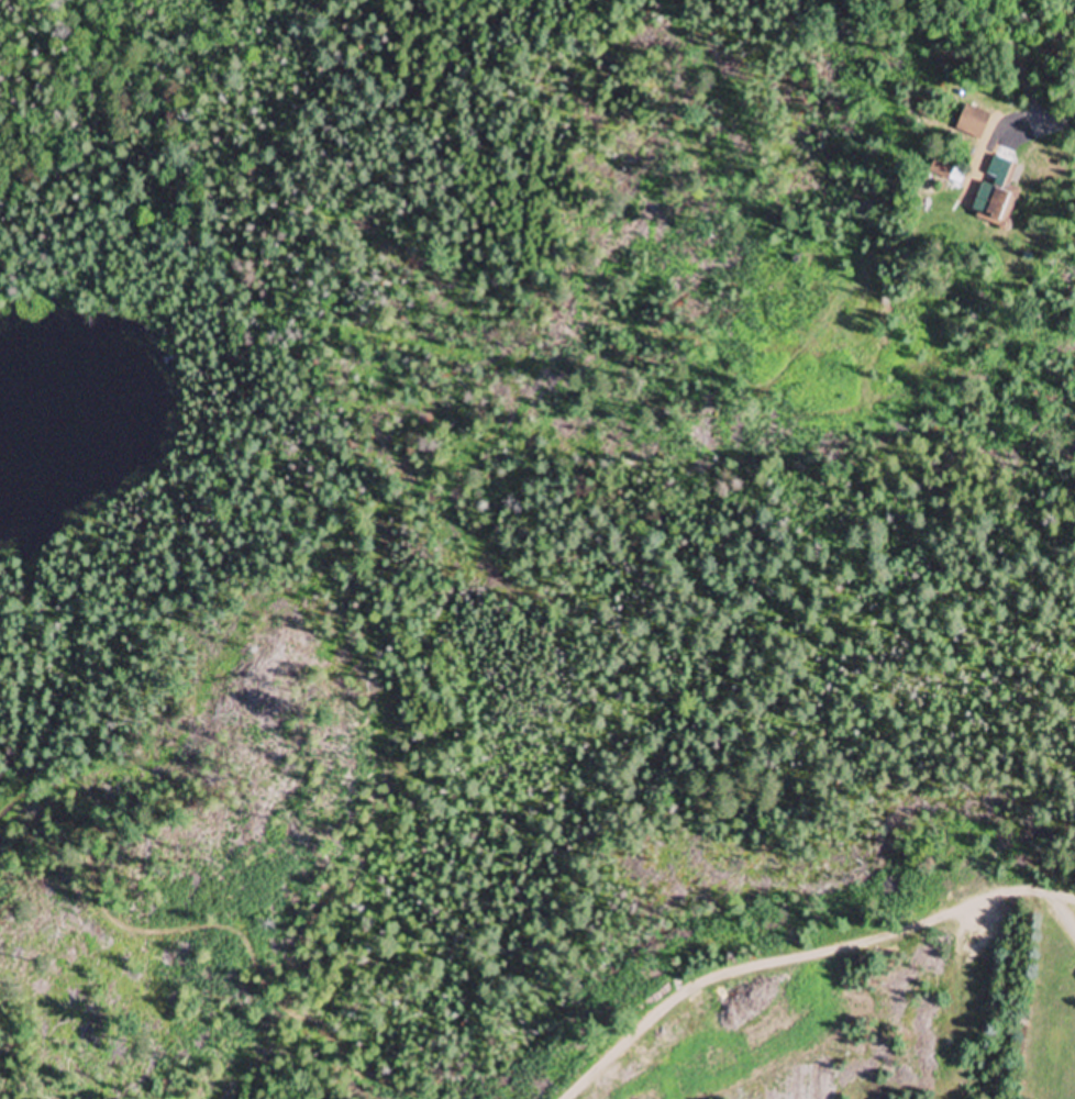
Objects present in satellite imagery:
building: (972, 122)
building: (946, 170)
building: (997, 195)
park: (523, 597)

